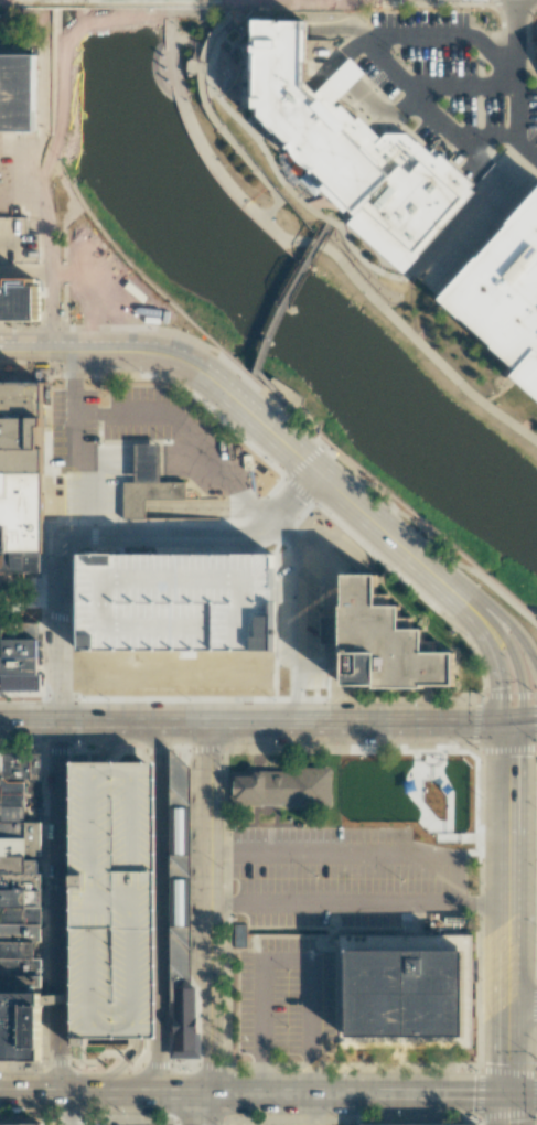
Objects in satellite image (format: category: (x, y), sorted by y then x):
road: (516, 25)
railway: (480, 41)
building: (536, 44)
road: (410, 89)
road: (462, 89)
building: (18, 92)
railway: (427, 122)
building: (352, 141)
road: (525, 148)
road: (309, 201)
road: (316, 239)
parking lot: (17, 242)
river: (264, 292)
road: (291, 296)
building: (506, 297)
building: (20, 300)
road: (63, 349)
road: (215, 361)
road: (265, 381)
road: (71, 440)
road: (110, 440)
road: (197, 446)
parking lot: (74, 448)
road: (161, 459)
building: (20, 472)
building: (149, 483)
road: (354, 503)
road: (267, 521)
road: (281, 535)
road: (60, 556)
road: (331, 597)
road: (298, 606)
building: (173, 609)
parking lot: (173, 609)
road: (504, 624)
building: (382, 643)
building: (14, 660)
road: (315, 665)
road: (298, 694)
road: (333, 694)
street lamp: (30, 699)
road: (536, 708)
road: (522, 720)
road: (30, 721)
road: (129, 722)
road: (354, 722)
traffic signals: (507, 724)
road: (146, 737)
road: (522, 748)
building: (288, 789)
road: (315, 855)
park: (522, 864)
road: (507, 866)
building: (181, 871)
building: (20, 878)
parking lot: (344, 879)
building: (116, 902)
parking lot: (116, 902)
road: (354, 904)
road: (60, 907)
road: (201, 908)
building: (239, 935)
road: (286, 961)
building: (405, 994)
road: (535, 994)
parking lot: (284, 996)
road: (523, 1008)
building: (181, 1018)
building: (21, 1024)
road: (507, 1051)
road: (121, 1067)
street lamp: (189, 1071)
road: (99, 1093)
road: (353, 1095)
traffic signals: (507, 1096)
road: (522, 1096)
road: (200, 1110)
road: (313, 1110)
road: (507, 1111)
parking lot: (261, 1122)
building: (19, 1124)
building: (404, 1124)

